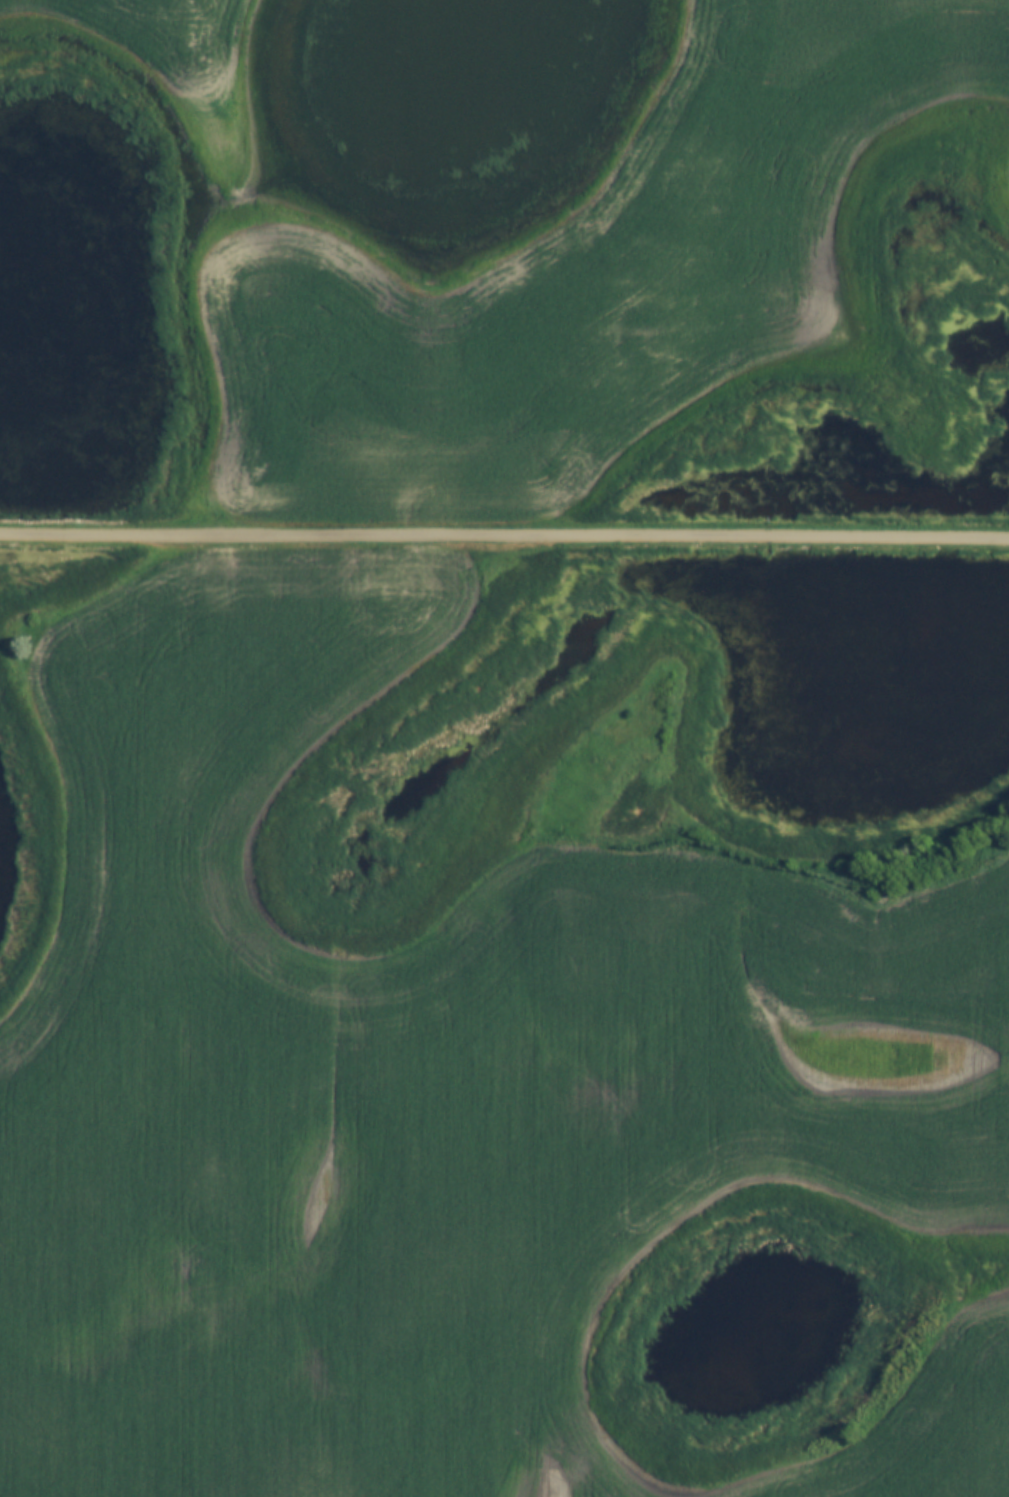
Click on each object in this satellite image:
road: (504, 538)

